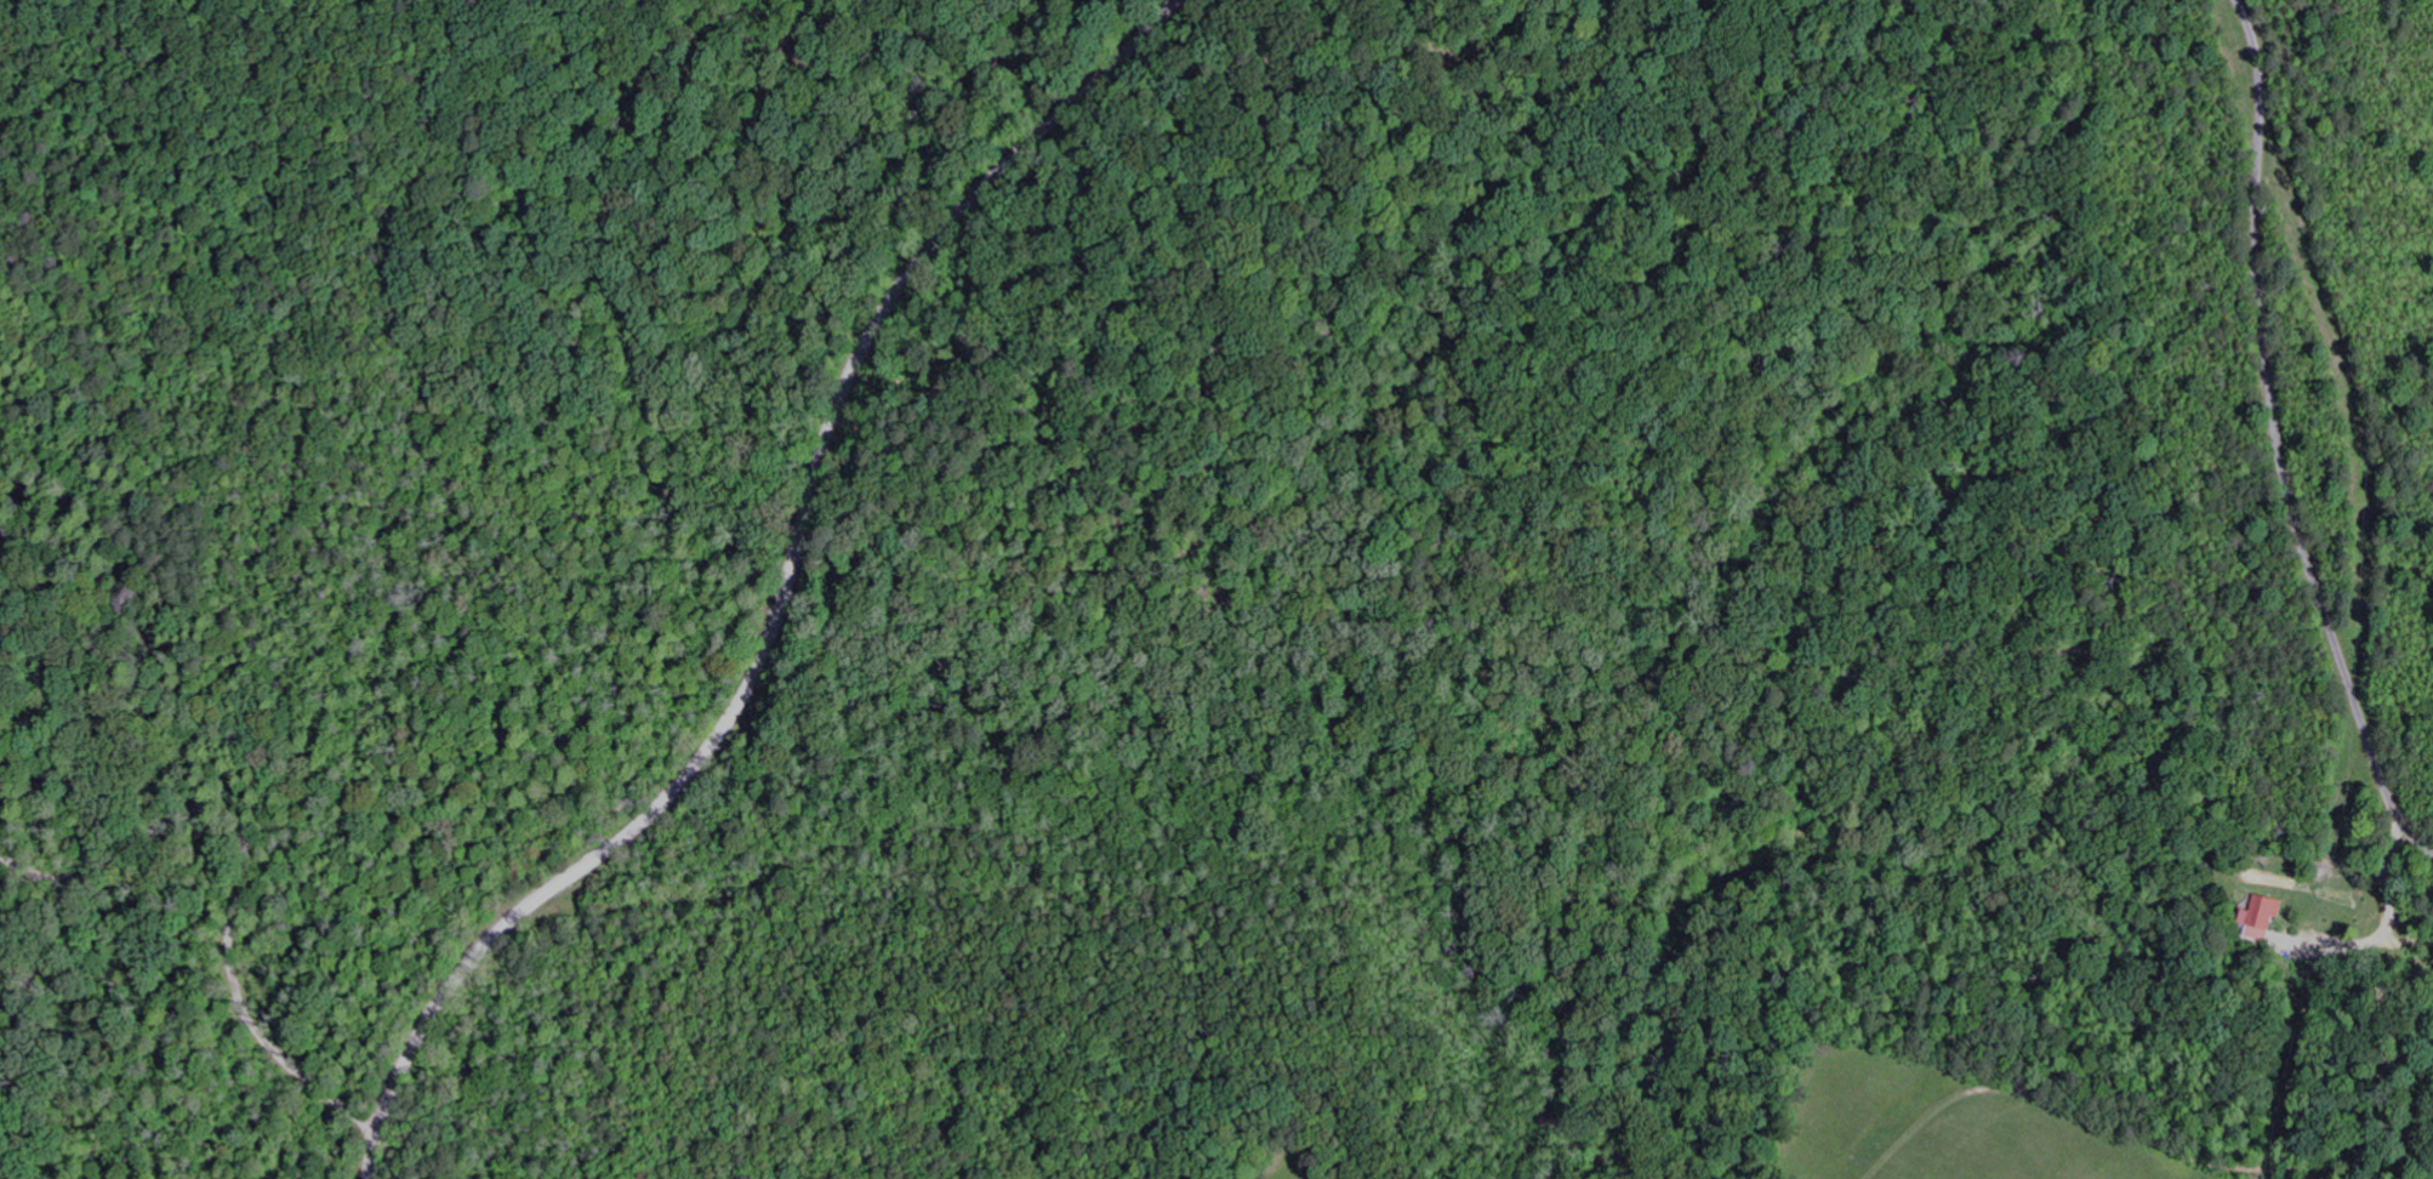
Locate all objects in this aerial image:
road: (2357, 412)
road: (2279, 440)
road: (780, 597)
building: (2269, 925)
road: (2384, 935)
road: (230, 939)

